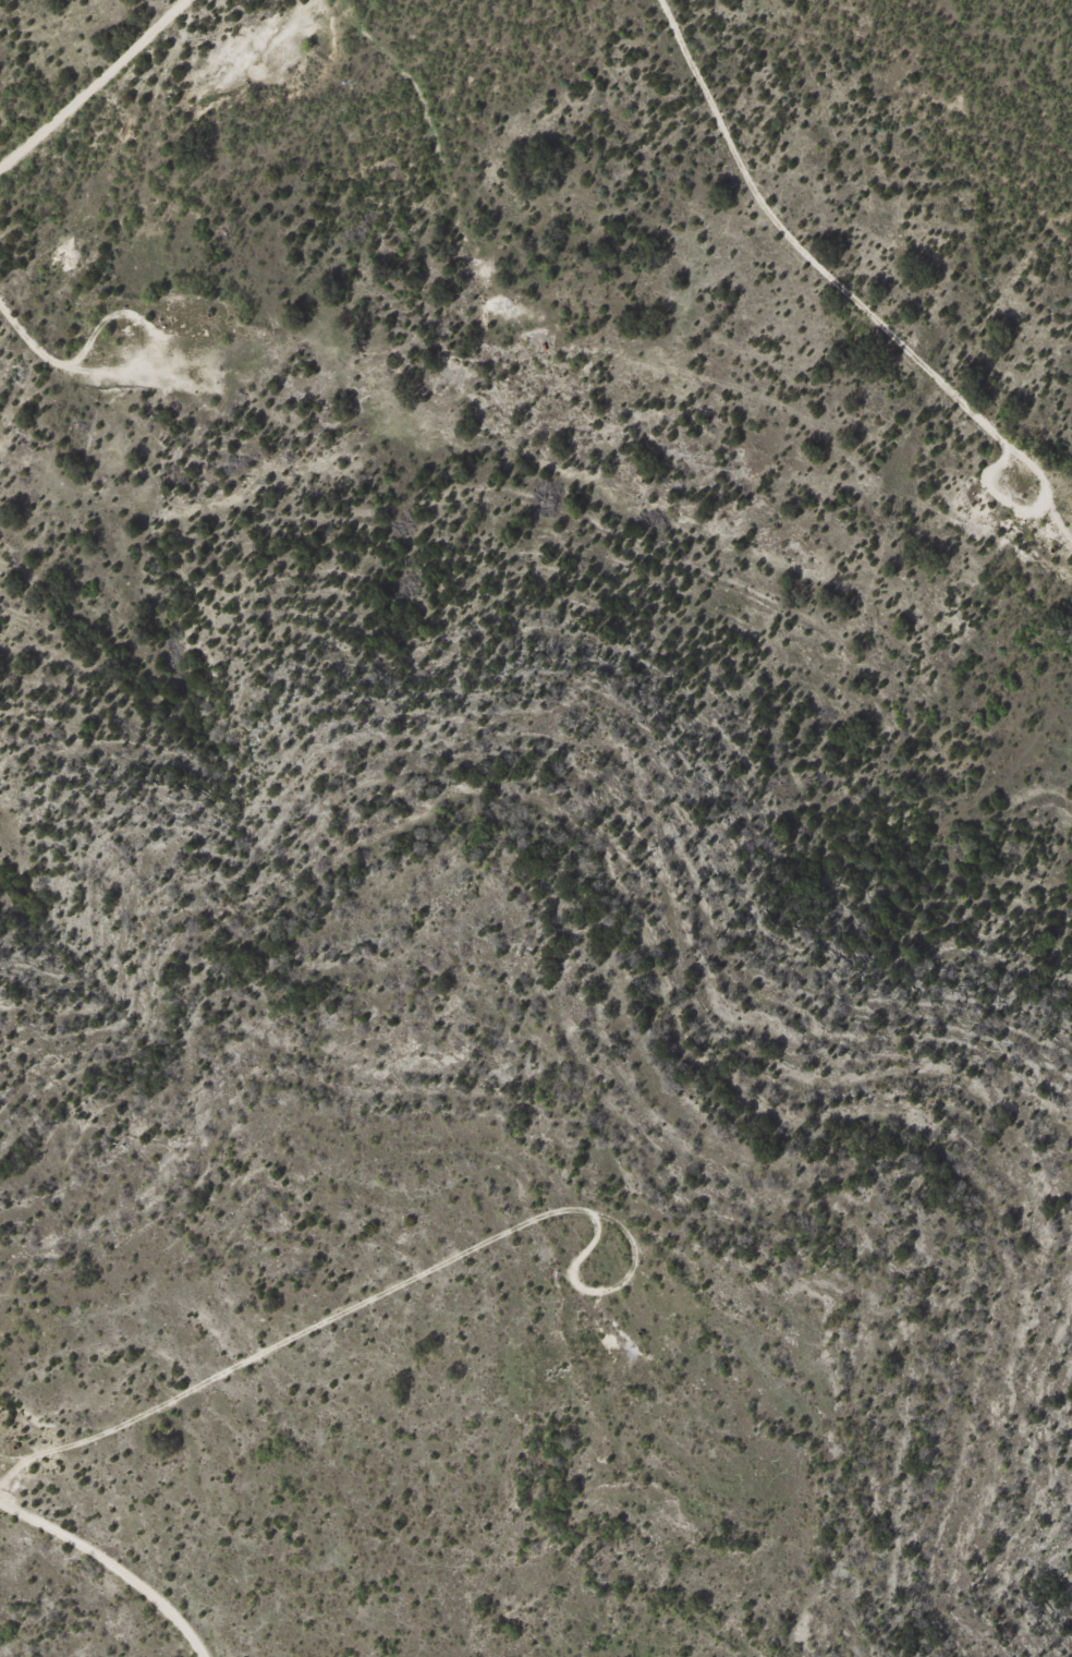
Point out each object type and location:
road: (105, 95)
road: (112, 1544)

